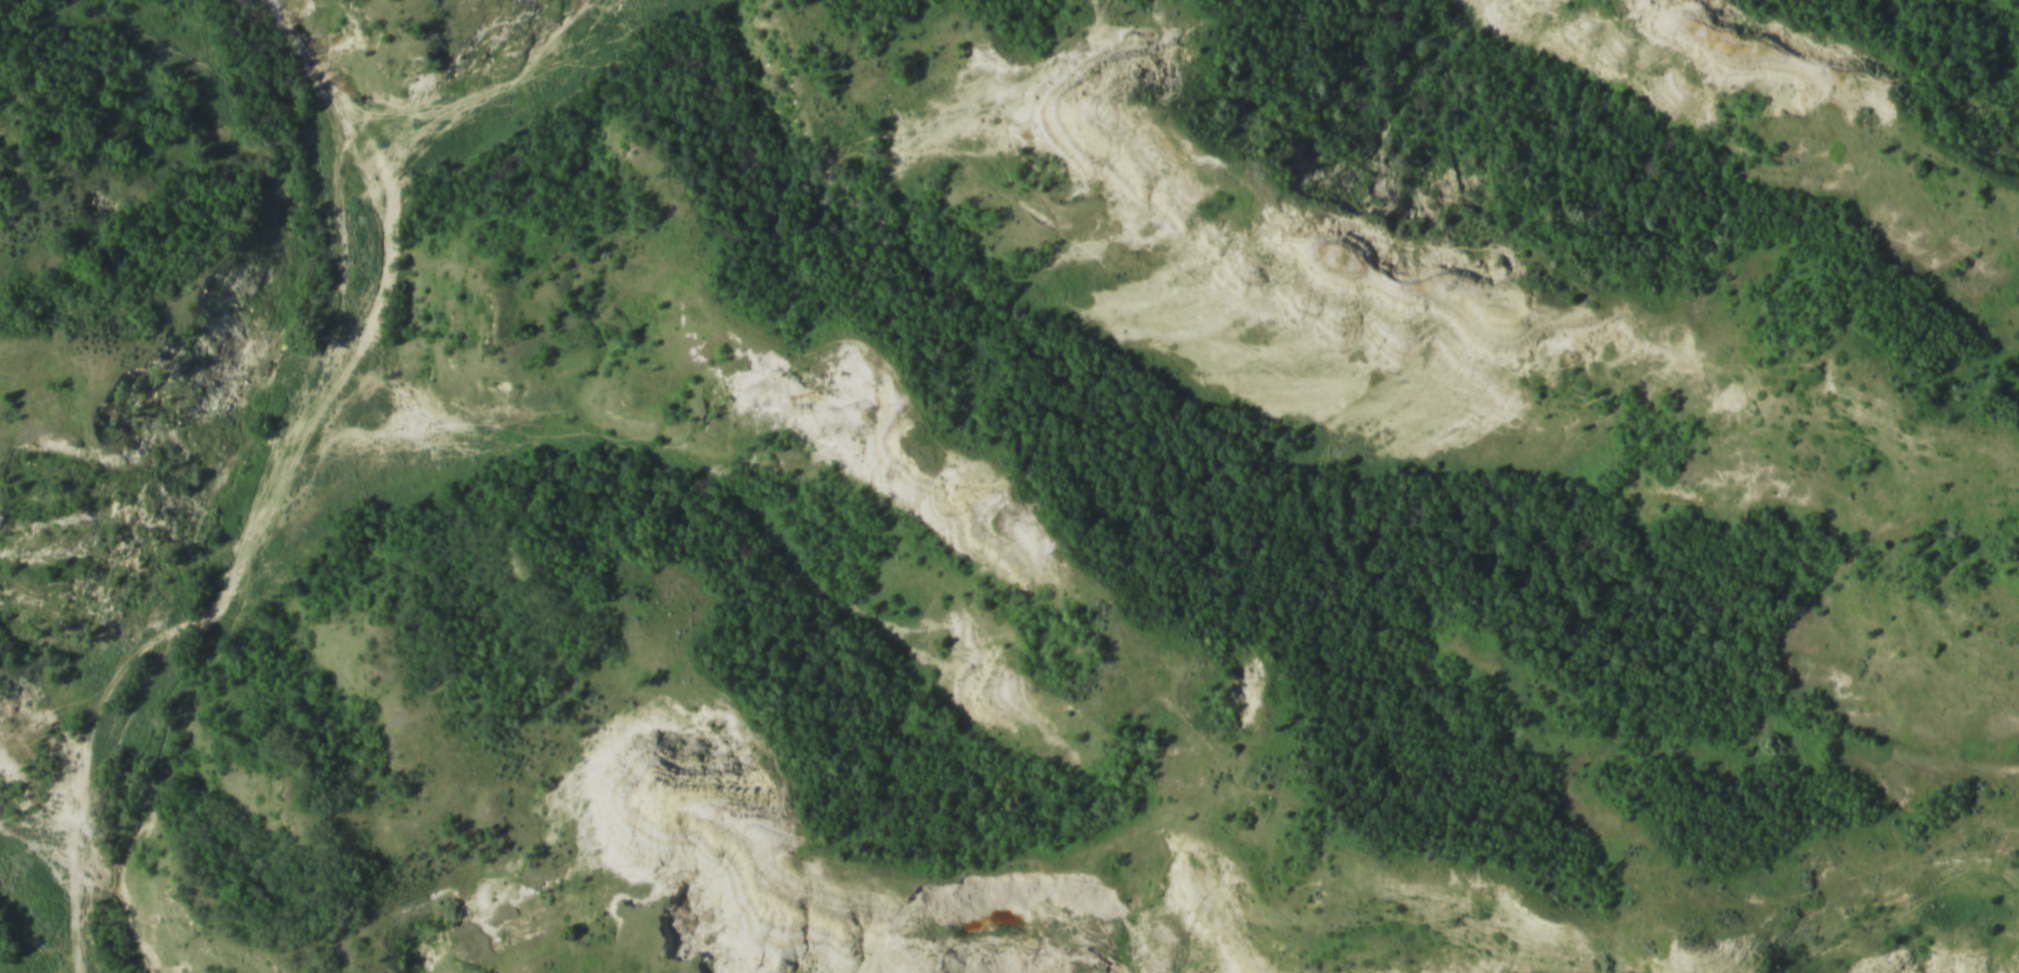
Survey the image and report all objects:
road: (365, 88)
road: (242, 547)
road: (134, 904)

